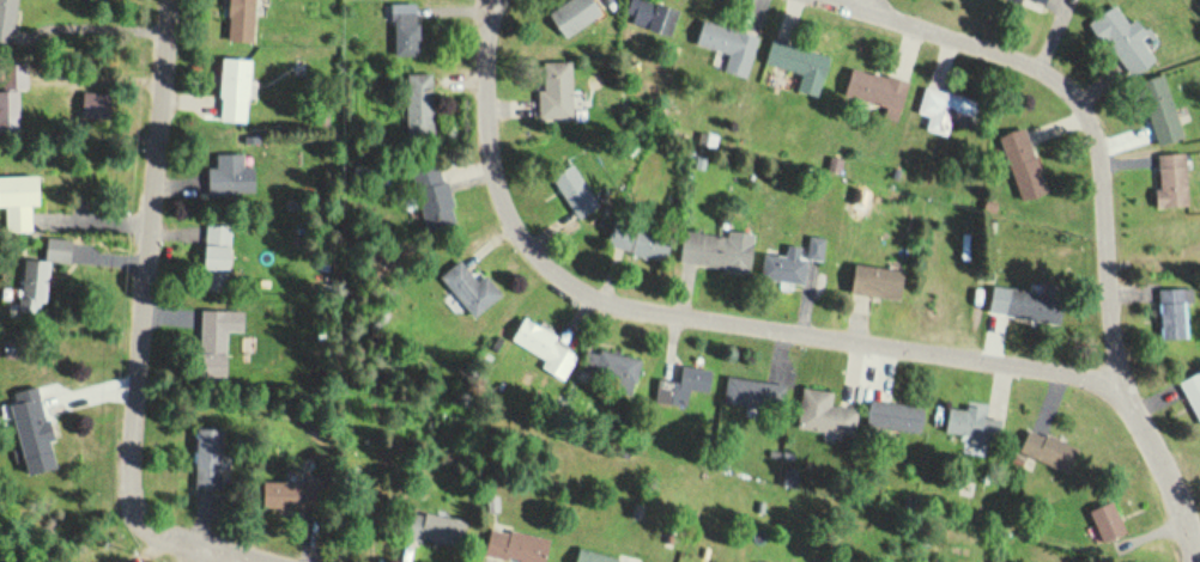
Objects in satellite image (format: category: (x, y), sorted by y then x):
road: (499, 2)
building: (1034, 2)
building: (570, 16)
building: (649, 16)
building: (5, 18)
building: (237, 20)
building: (402, 30)
building: (1122, 43)
building: (726, 45)
building: (796, 65)
building: (230, 90)
building: (552, 90)
building: (872, 91)
building: (10, 96)
building: (417, 108)
building: (943, 110)
building: (1158, 111)
building: (1019, 164)
building: (228, 178)
building: (1169, 181)
building: (571, 190)
building: (431, 197)
building: (16, 203)
road: (1111, 219)
building: (637, 243)
building: (213, 251)
building: (715, 251)
building: (789, 263)
building: (37, 277)
building: (872, 283)
building: (466, 287)
building: (1031, 306)
road: (704, 312)
building: (1171, 312)
road: (145, 318)
building: (213, 341)
building: (544, 350)
building: (608, 369)
building: (681, 386)
building: (750, 393)
building: (1192, 393)
building: (823, 415)
building: (892, 417)
building: (969, 426)
building: (30, 429)
building: (1044, 451)
building: (206, 459)
building: (277, 495)
building: (1103, 520)
building: (435, 530)
building: (511, 546)
building: (588, 557)

